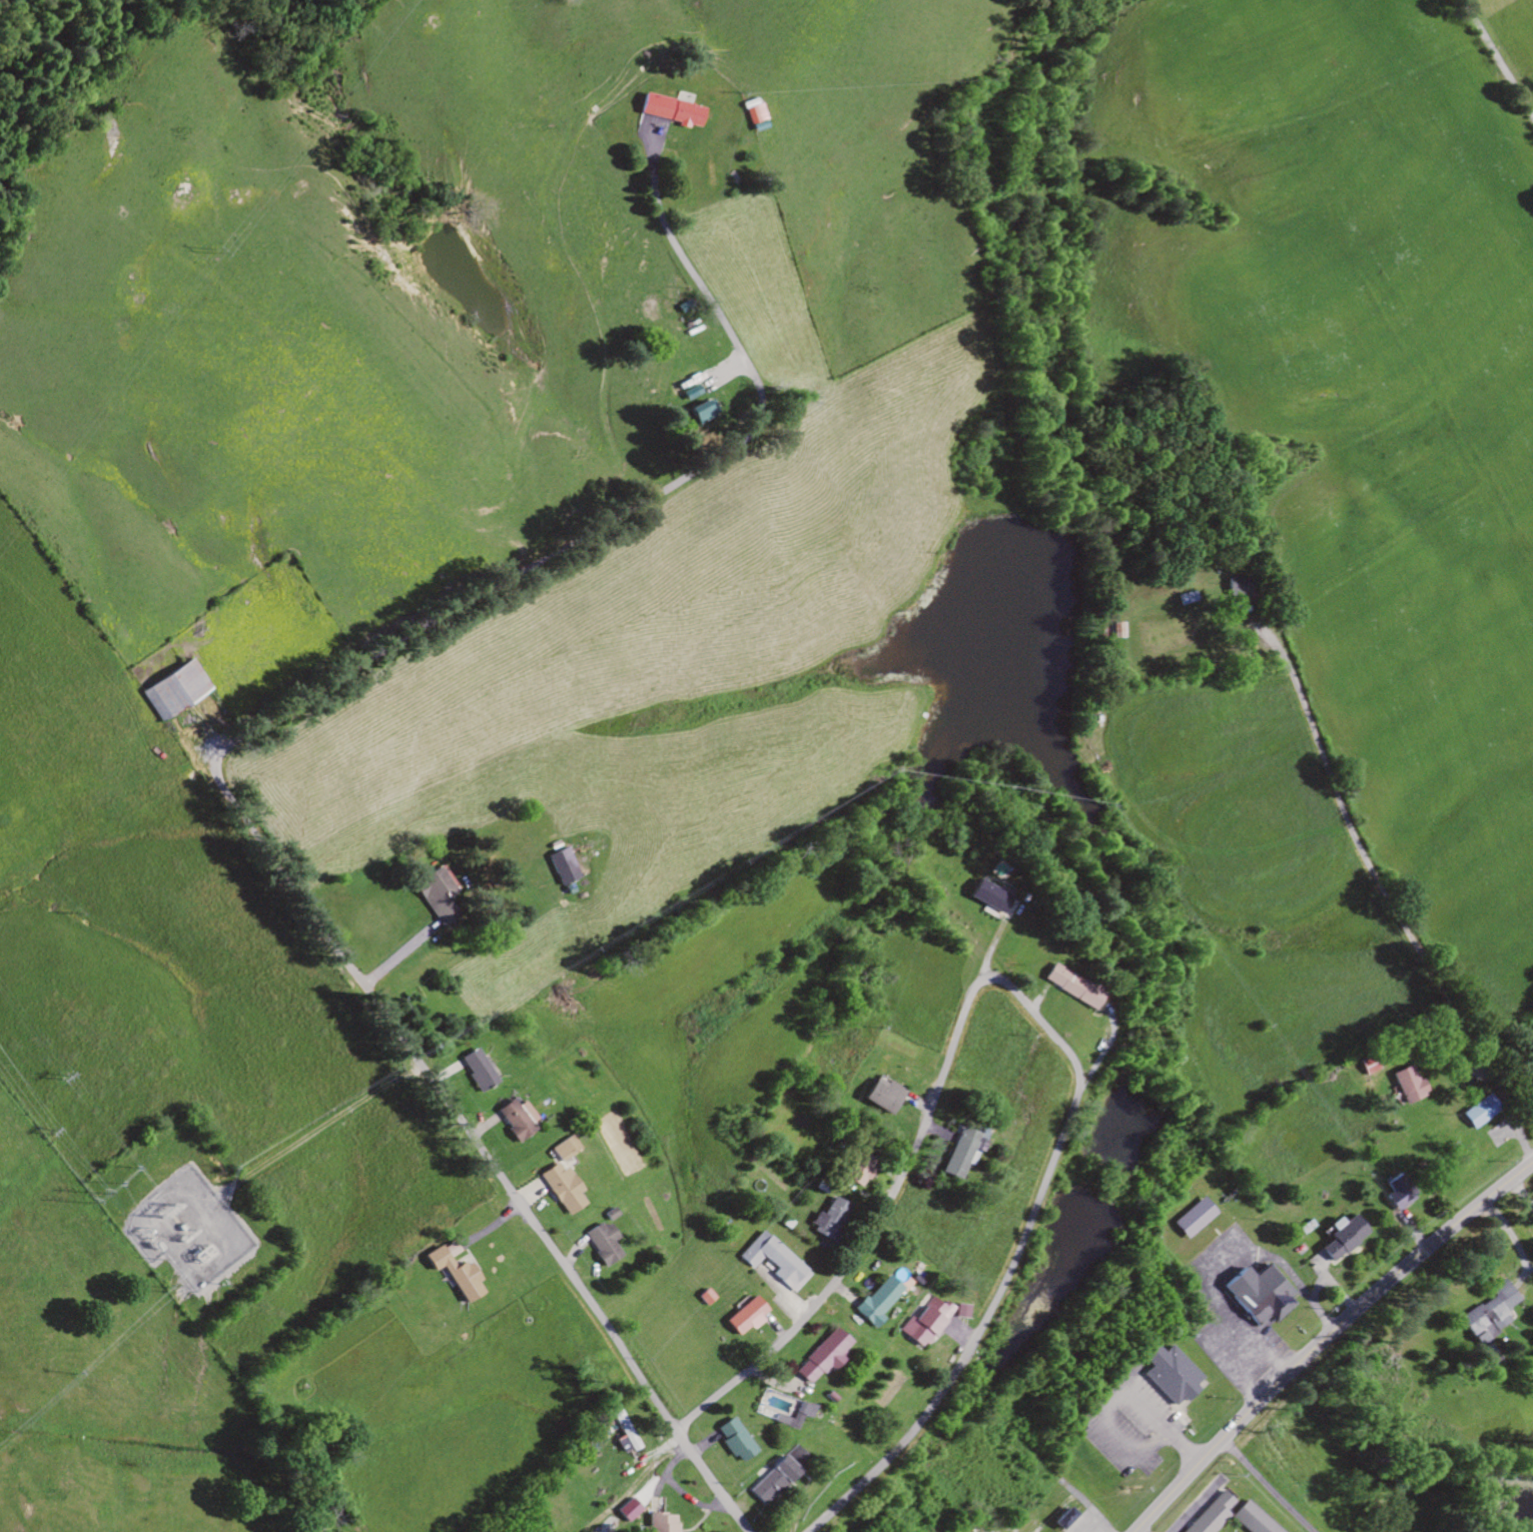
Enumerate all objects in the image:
road: (1494, 64)
building: (674, 111)
building: (754, 112)
building: (650, 130)
building: (696, 412)
building: (1229, 586)
building: (1114, 630)
building: (171, 688)
road: (219, 774)
building: (430, 894)
building: (983, 896)
road: (1383, 902)
building: (1064, 986)
road: (1023, 1014)
building: (474, 1070)
building: (1406, 1085)
building: (879, 1095)
building: (1476, 1112)
building: (512, 1119)
building: (560, 1148)
building: (960, 1153)
building: (855, 1170)
building: (557, 1188)
building: (1394, 1193)
building: (825, 1218)
building: (1189, 1218)
building: (1339, 1237)
building: (598, 1244)
building: (772, 1262)
building: (451, 1272)
building: (1257, 1294)
building: (702, 1297)
building: (874, 1300)
building: (961, 1312)
building: (1487, 1315)
building: (743, 1317)
building: (922, 1323)
road: (1323, 1337)
building: (819, 1357)
building: (1166, 1374)
building: (626, 1431)
building: (733, 1440)
building: (794, 1457)
building: (769, 1481)
building: (628, 1509)
building: (1210, 1515)
building: (1062, 1519)
building: (1250, 1519)
building: (657, 1523)

